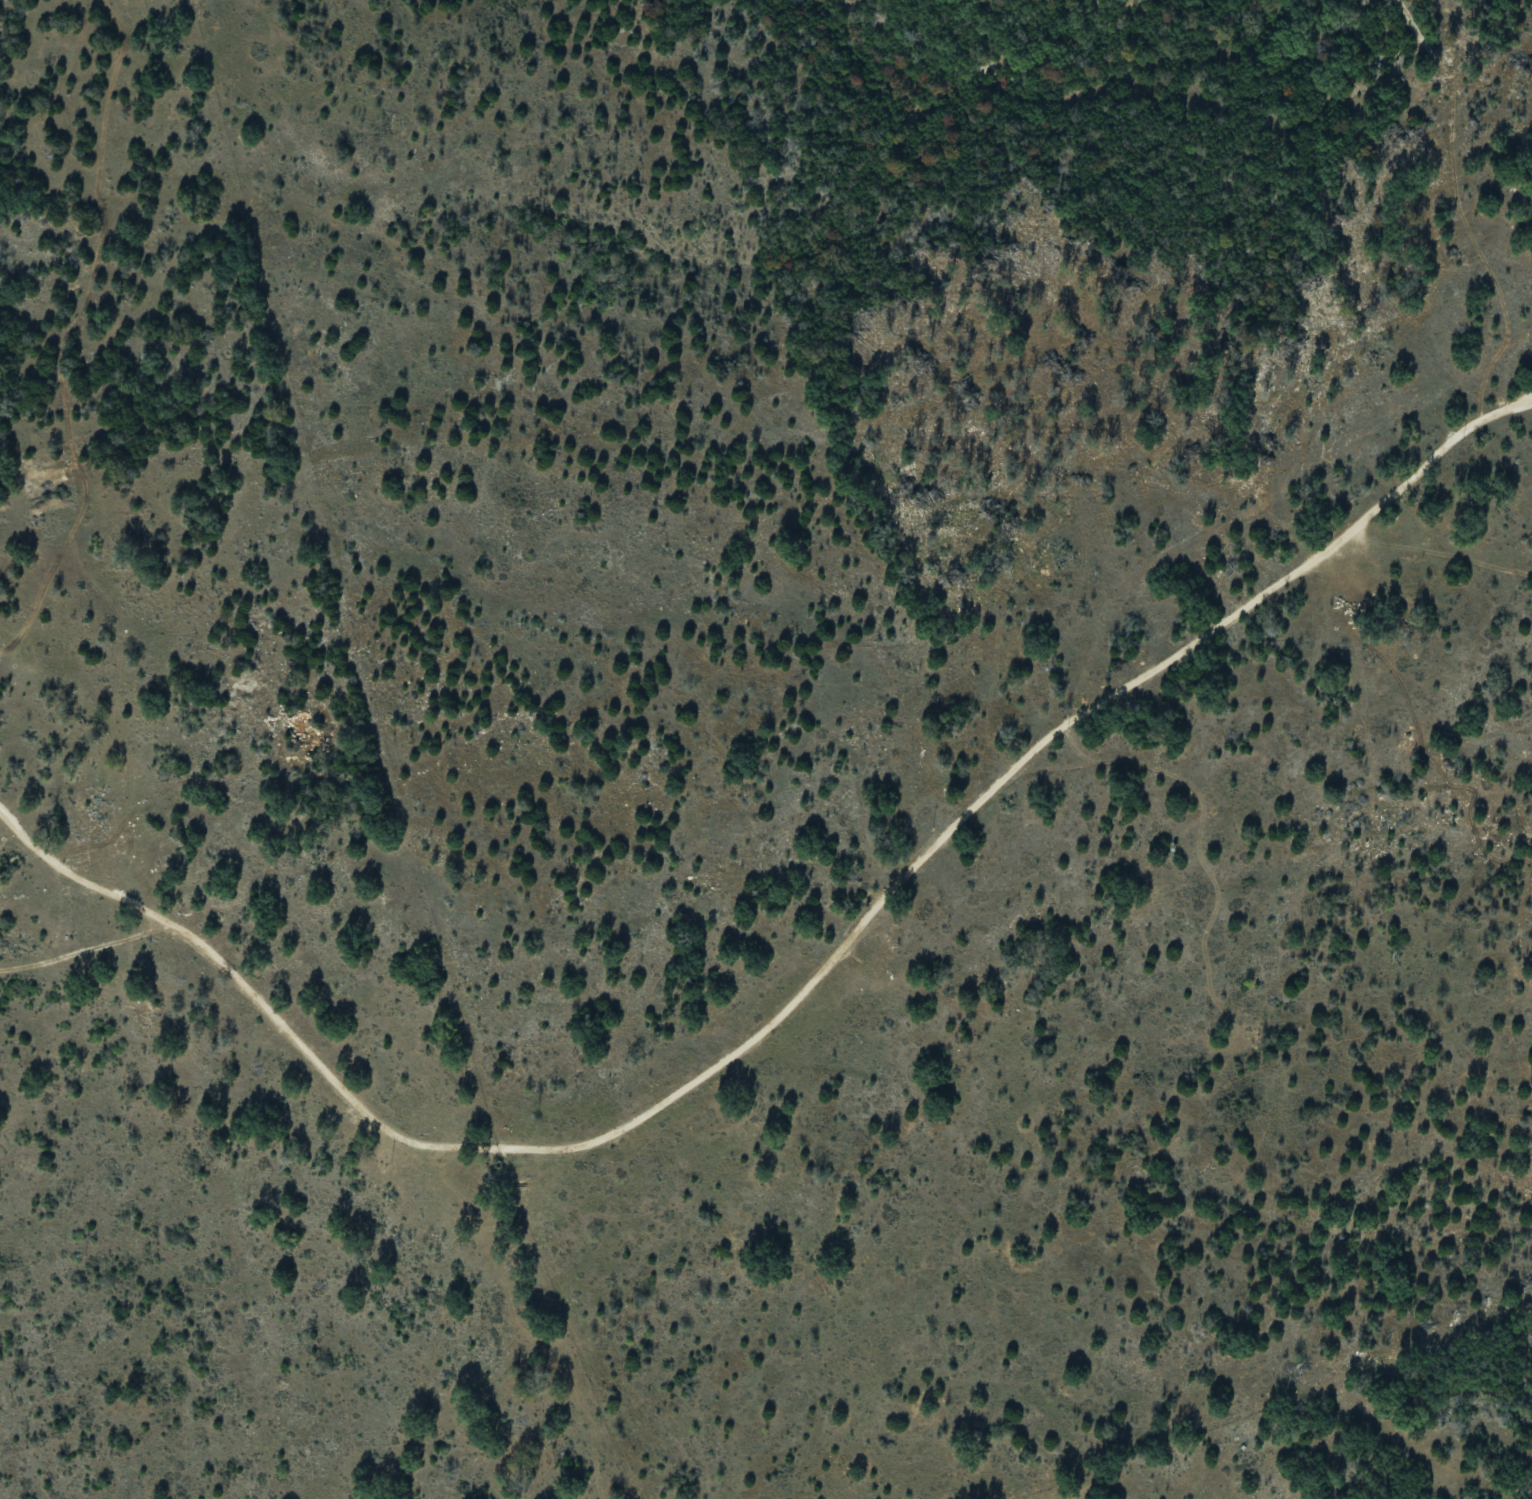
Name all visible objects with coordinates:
road: (793, 1001)

